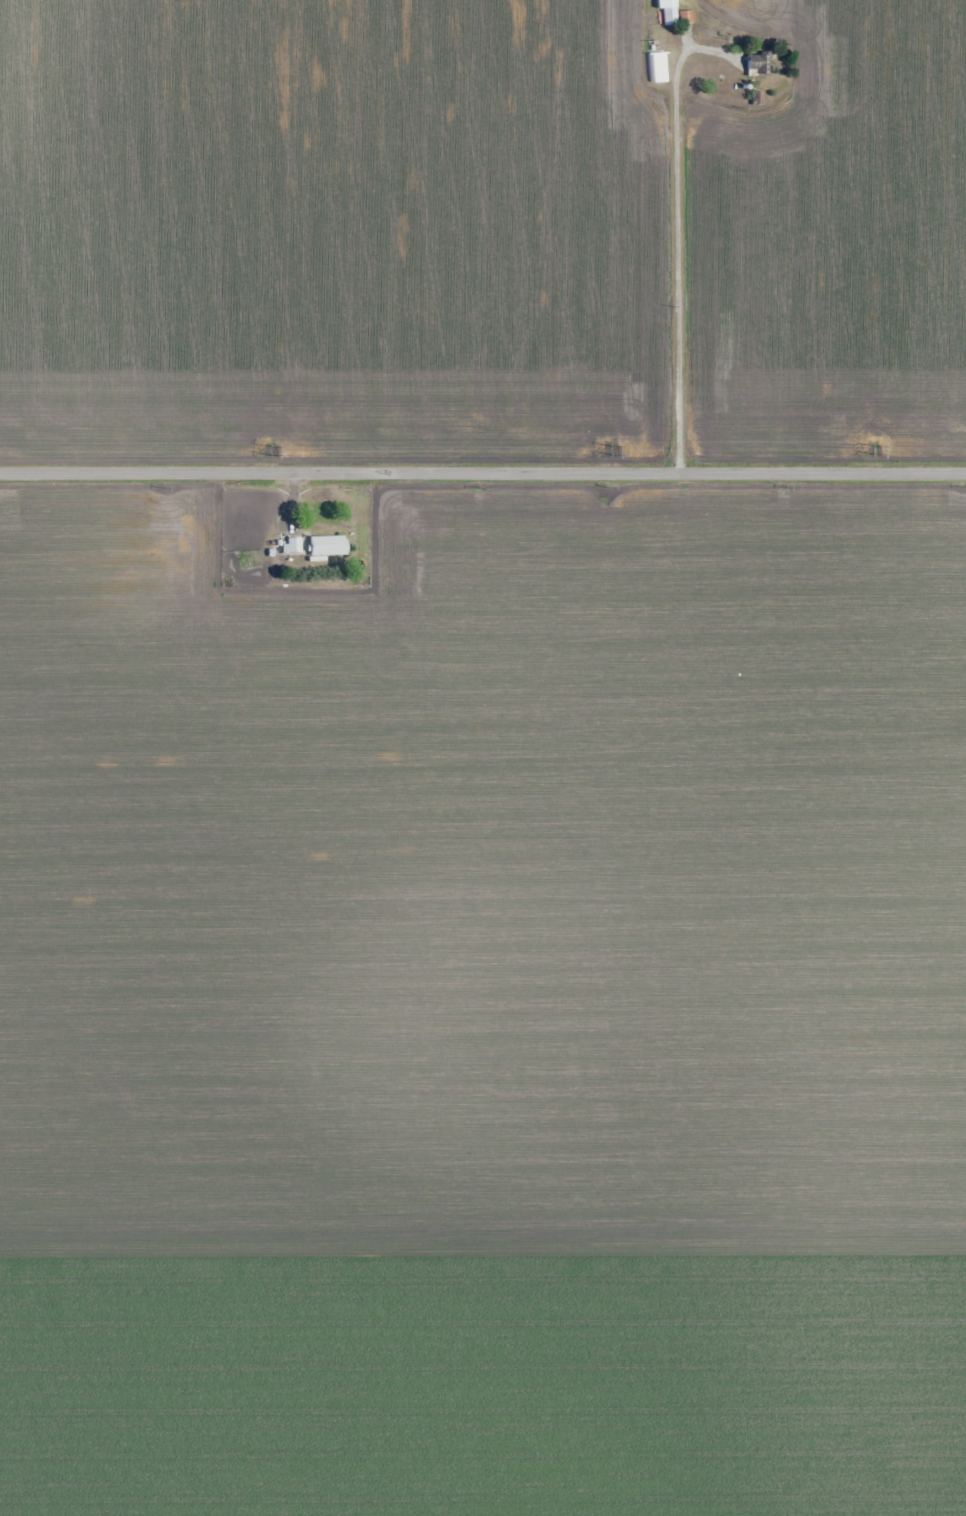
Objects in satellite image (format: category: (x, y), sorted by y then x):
building: (668, 11)
building: (758, 64)
building: (657, 67)
road: (677, 233)
power tower: (874, 449)
power tower: (613, 450)
power tower: (271, 452)
road: (483, 473)
building: (247, 501)
building: (293, 545)
building: (327, 546)

